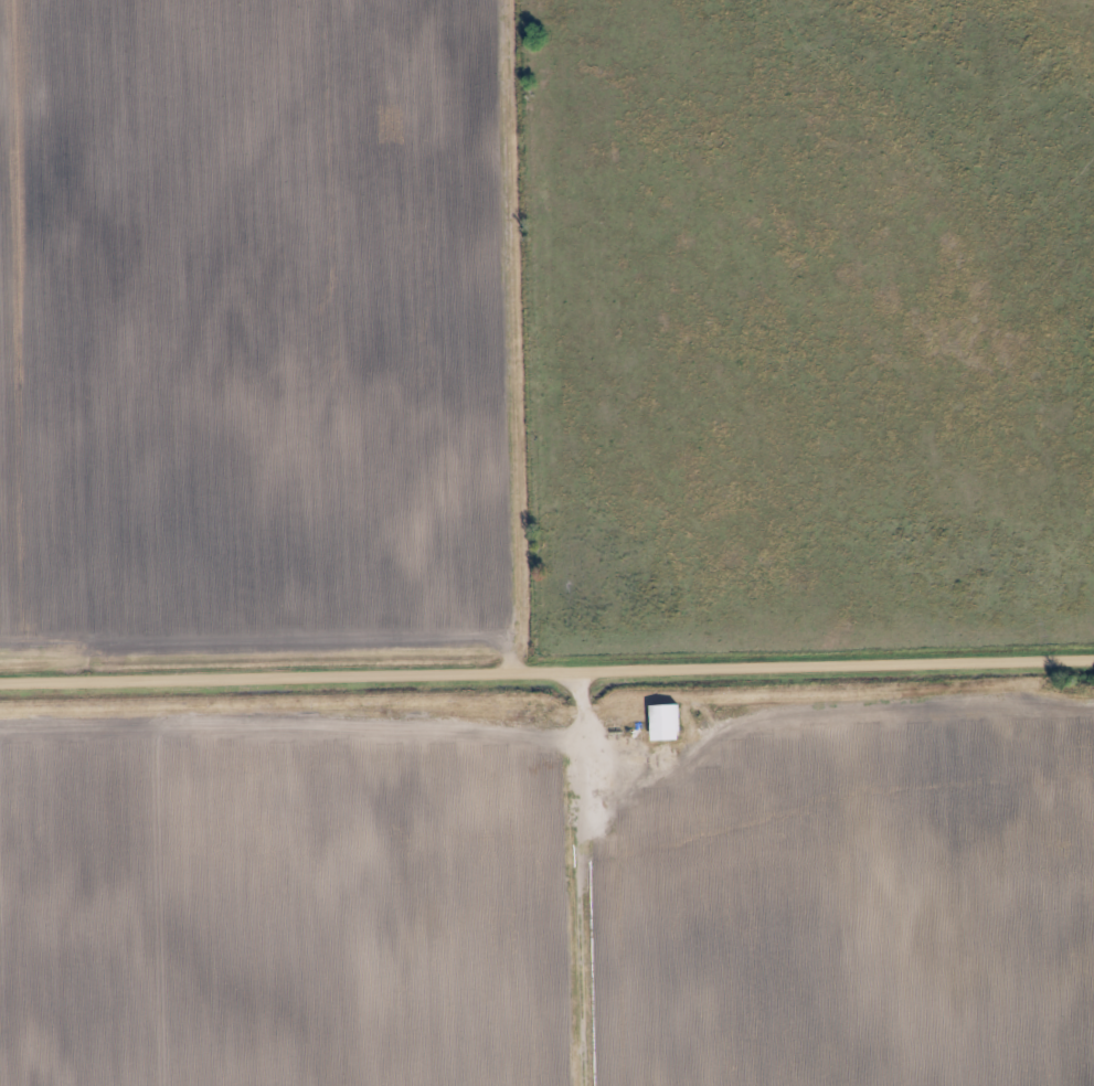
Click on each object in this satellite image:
road: (546, 669)

